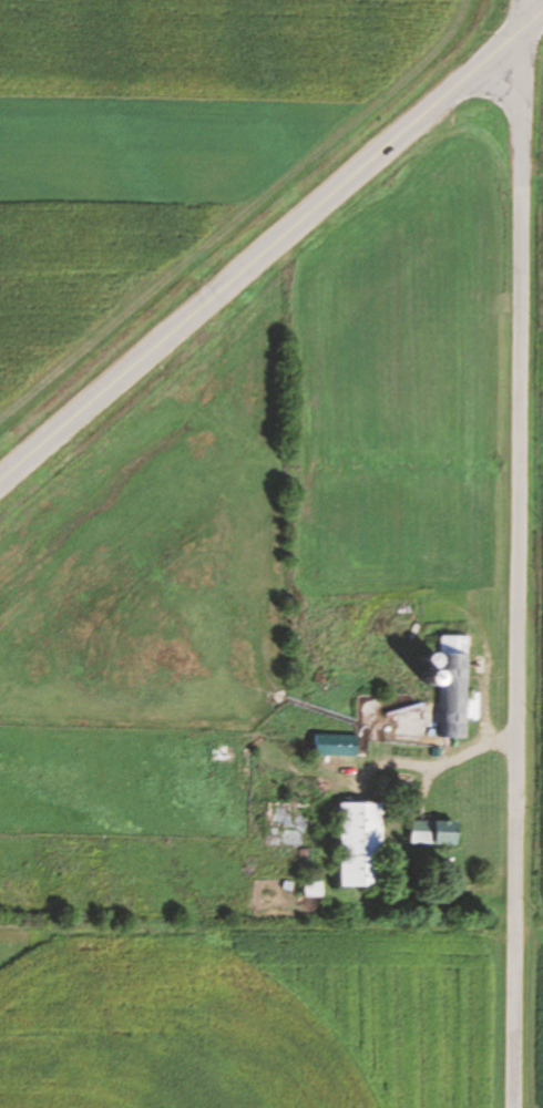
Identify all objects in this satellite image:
road: (271, 253)
road: (513, 553)
building: (453, 687)
building: (337, 746)
building: (294, 815)
building: (434, 832)
building: (361, 844)
building: (314, 889)

